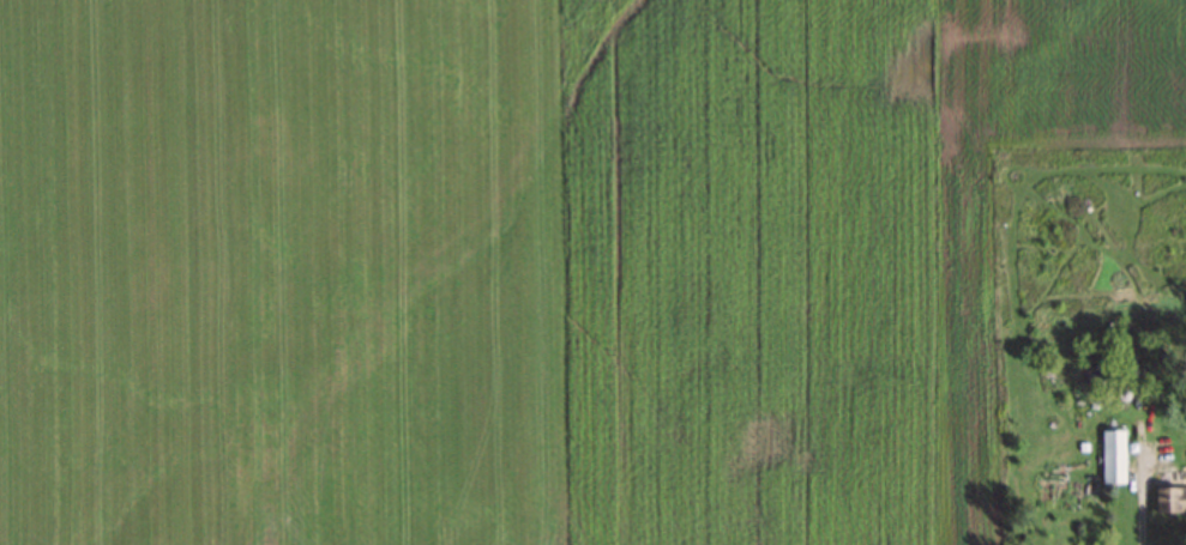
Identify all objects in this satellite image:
building: (1110, 456)
building: (1168, 501)
road: (1143, 514)

